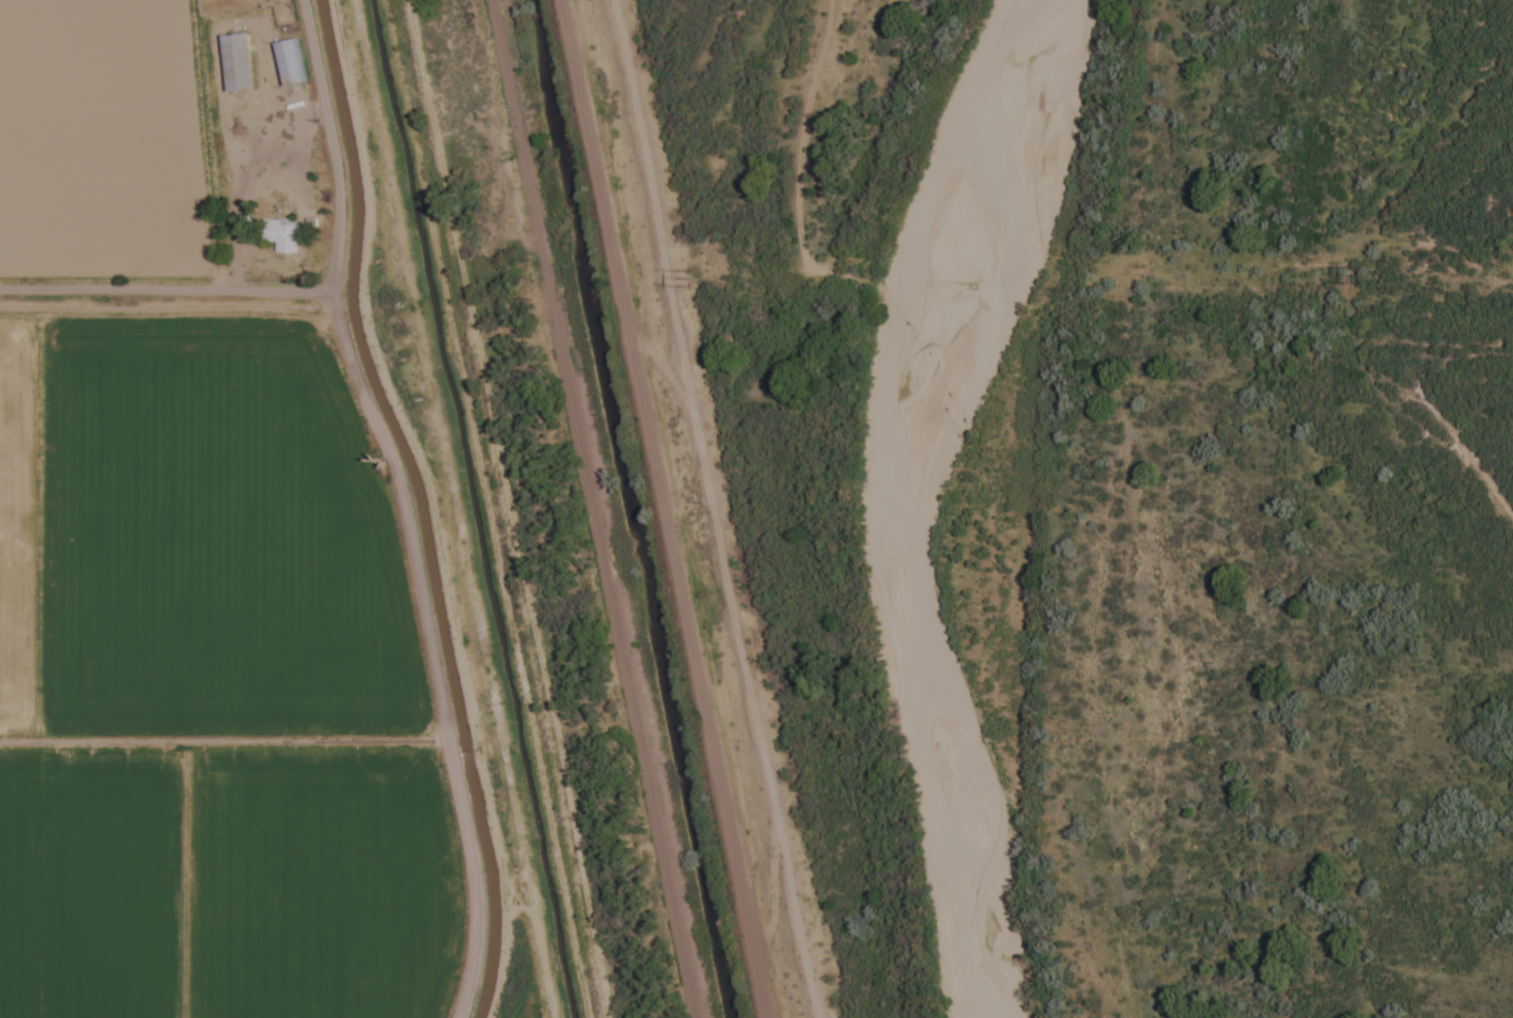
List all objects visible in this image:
building: (237, 64)
building: (288, 64)
building: (282, 236)
road: (162, 294)
river: (891, 500)
road: (390, 506)
road: (707, 507)
road: (594, 509)
crop: (188, 585)

